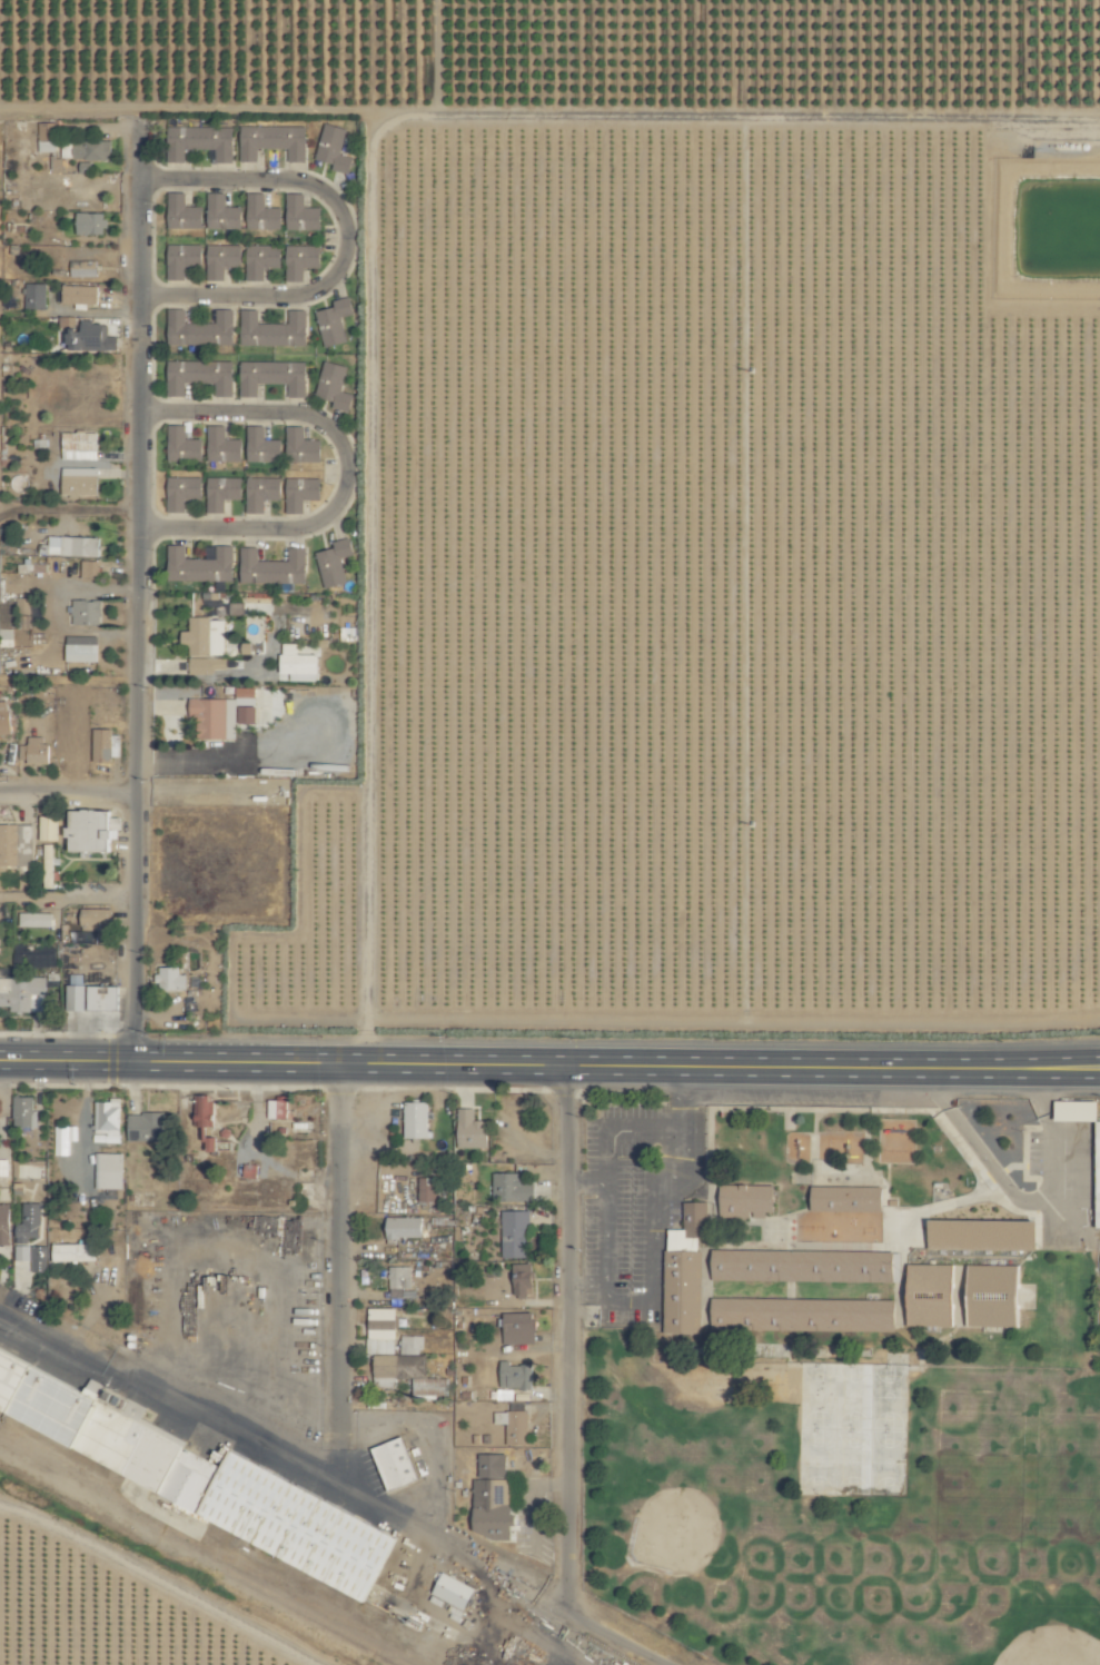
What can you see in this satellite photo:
road: (607, 100)
building: (48, 137)
building: (272, 141)
building: (200, 142)
building: (333, 148)
building: (87, 150)
building: (184, 212)
building: (222, 212)
building: (262, 214)
building: (303, 214)
building: (91, 224)
road: (349, 238)
building: (182, 259)
building: (222, 260)
building: (261, 260)
building: (301, 260)
building: (85, 269)
building: (81, 295)
building: (36, 296)
building: (335, 321)
building: (200, 329)
building: (274, 329)
building: (92, 338)
building: (200, 376)
building: (272, 377)
building: (334, 386)
building: (79, 446)
building: (184, 446)
building: (224, 446)
building: (262, 446)
building: (303, 446)
road: (348, 470)
building: (80, 482)
building: (182, 493)
building: (222, 493)
building: (261, 493)
building: (301, 493)
crop: (701, 499)
road: (68, 507)
building: (75, 546)
building: (334, 563)
building: (200, 565)
building: (272, 567)
building: (90, 571)
road: (138, 592)
building: (87, 613)
building: (24, 614)
building: (206, 644)
building: (82, 648)
building: (298, 664)
building: (247, 706)
building: (4, 717)
building: (216, 718)
building: (107, 744)
building: (36, 750)
road: (222, 755)
road: (68, 791)
building: (48, 827)
building: (95, 829)
building: (17, 844)
road: (67, 896)
building: (36, 919)
building: (99, 921)
building: (170, 978)
building: (22, 993)
building: (103, 997)
road: (832, 1058)
road: (283, 1062)
road: (832, 1076)
road: (680, 1102)
building: (204, 1109)
building: (24, 1110)
building: (107, 1117)
building: (0, 1118)
building: (416, 1119)
building: (147, 1127)
road: (612, 1129)
building: (473, 1130)
building: (59, 1140)
road: (1050, 1142)
building: (212, 1143)
road: (977, 1151)
road: (676, 1163)
building: (3, 1167)
building: (109, 1170)
building: (251, 1171)
building: (1097, 1173)
road: (586, 1185)
building: (512, 1188)
building: (427, 1189)
building: (850, 1198)
building: (750, 1199)
building: (30, 1222)
building: (6, 1225)
building: (405, 1227)
building: (515, 1233)
building: (985, 1235)
building: (73, 1251)
building: (32, 1256)
building: (804, 1266)
building: (685, 1270)
road: (338, 1276)
building: (400, 1277)
building: (524, 1279)
building: (933, 1295)
building: (995, 1297)
road: (628, 1302)
building: (803, 1315)
building: (521, 1328)
building: (381, 1330)
road: (567, 1337)
building: (412, 1368)
building: (516, 1375)
building: (514, 1426)
building: (400, 1463)
building: (190, 1469)
road: (335, 1487)
building: (494, 1497)
building: (454, 1592)
crop: (103, 1609)

